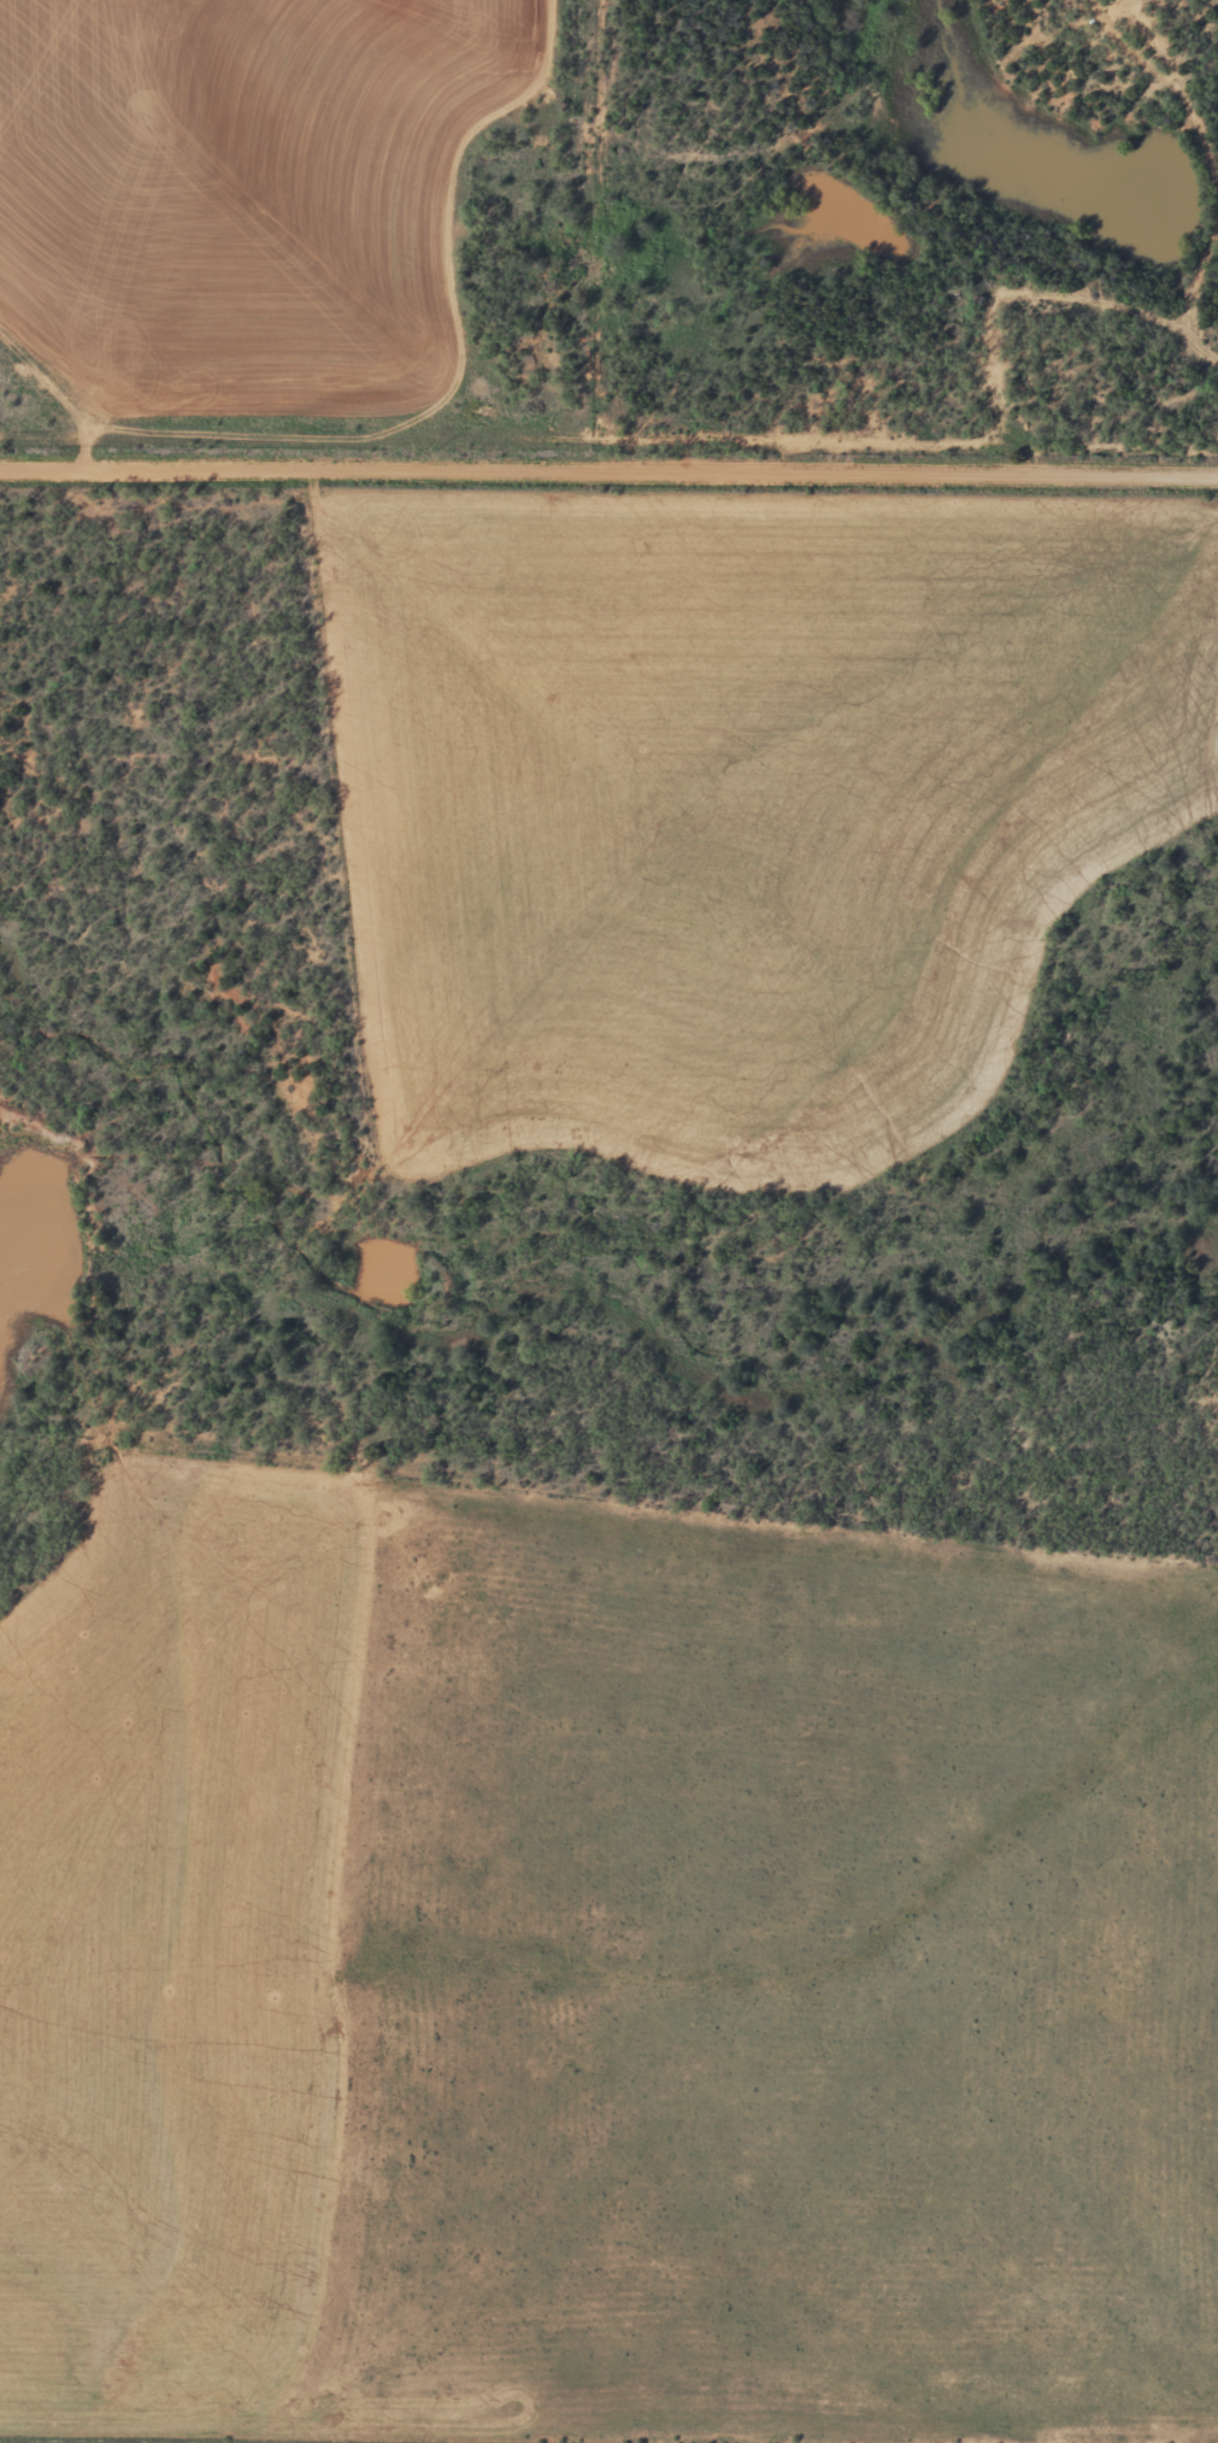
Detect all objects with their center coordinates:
road: (1183, 34)
road: (51, 413)
road: (608, 468)

